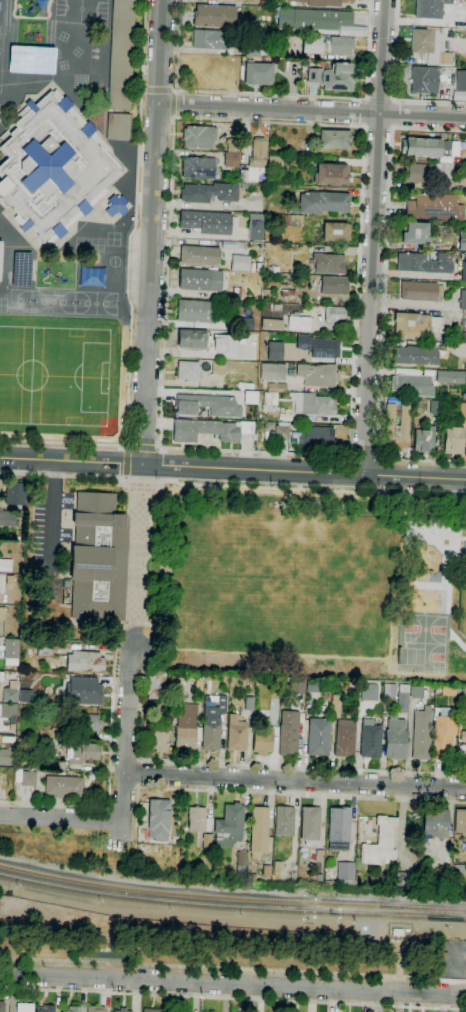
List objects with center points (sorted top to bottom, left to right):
building: (267, 2)
building: (321, 2)
building: (40, 3)
building: (430, 9)
park: (80, 11)
building: (214, 16)
building: (313, 19)
building: (465, 19)
building: (259, 20)
building: (210, 39)
road: (176, 45)
building: (327, 45)
building: (280, 46)
building: (430, 46)
building: (252, 49)
building: (121, 54)
building: (30, 60)
building: (258, 73)
building: (333, 77)
building: (424, 80)
building: (461, 81)
road: (394, 85)
road: (145, 90)
road: (159, 90)
road: (159, 90)
road: (172, 90)
road: (174, 92)
building: (465, 96)
road: (319, 97)
road: (173, 104)
road: (173, 105)
road: (312, 109)
road: (364, 113)
road: (396, 114)
road: (156, 115)
road: (173, 117)
building: (117, 126)
road: (377, 133)
building: (198, 137)
building: (334, 140)
building: (231, 145)
building: (421, 147)
building: (231, 160)
building: (254, 162)
building: (275, 164)
building: (53, 168)
building: (198, 168)
building: (443, 170)
building: (417, 173)
building: (332, 174)
road: (169, 187)
building: (208, 193)
building: (320, 203)
building: (116, 206)
building: (434, 207)
building: (293, 220)
building: (206, 222)
road: (135, 223)
building: (255, 230)
road: (153, 232)
building: (335, 232)
building: (416, 234)
road: (373, 237)
building: (462, 243)
building: (233, 245)
building: (0, 254)
building: (199, 256)
building: (240, 263)
building: (424, 263)
building: (328, 264)
building: (200, 280)
building: (333, 285)
building: (465, 286)
building: (420, 291)
building: (266, 293)
building: (287, 294)
park: (18, 299)
building: (463, 300)
park: (52, 301)
road: (384, 301)
park: (95, 303)
building: (194, 311)
building: (335, 315)
building: (299, 323)
building: (244, 324)
building: (271, 324)
building: (417, 325)
building: (463, 337)
building: (208, 342)
building: (319, 346)
building: (273, 350)
building: (415, 356)
building: (218, 368)
building: (188, 371)
building: (272, 371)
park: (54, 374)
building: (317, 375)
building: (449, 377)
building: (412, 385)
road: (352, 387)
building: (276, 388)
building: (269, 402)
building: (313, 404)
building: (206, 405)
building: (269, 425)
building: (396, 429)
building: (209, 430)
building: (281, 433)
building: (316, 437)
building: (423, 440)
building: (453, 441)
road: (62, 445)
road: (127, 448)
road: (142, 448)
road: (125, 449)
road: (157, 449)
road: (363, 453)
road: (124, 463)
road: (233, 468)
road: (348, 474)
road: (381, 476)
road: (123, 478)
road: (232, 486)
building: (14, 494)
road: (53, 511)
building: (7, 519)
building: (464, 550)
road: (137, 554)
building: (98, 559)
building: (5, 566)
park: (307, 585)
building: (2, 613)
park: (424, 630)
building: (10, 649)
building: (45, 650)
park: (411, 656)
park: (434, 657)
building: (85, 662)
building: (198, 683)
building: (155, 684)
building: (314, 686)
building: (296, 687)
building: (85, 691)
building: (367, 691)
building: (416, 693)
building: (10, 696)
building: (402, 698)
building: (249, 703)
building: (221, 705)
building: (335, 706)
building: (9, 712)
building: (171, 718)
building: (82, 722)
building: (187, 728)
road: (126, 732)
building: (53, 733)
building: (236, 733)
building: (288, 733)
building: (421, 734)
building: (210, 736)
building: (443, 736)
building: (318, 737)
building: (158, 738)
building: (263, 738)
building: (344, 738)
building: (370, 739)
building: (395, 739)
building: (82, 753)
building: (5, 757)
building: (461, 761)
road: (221, 764)
road: (110, 765)
building: (50, 766)
road: (139, 773)
building: (27, 778)
road: (294, 781)
building: (64, 787)
road: (269, 792)
road: (60, 818)
building: (158, 818)
building: (198, 820)
building: (284, 821)
building: (460, 821)
building: (435, 824)
building: (229, 825)
building: (310, 825)
building: (338, 828)
building: (259, 832)
building: (380, 842)
building: (207, 843)
building: (241, 858)
building: (317, 863)
building: (277, 865)
building: (266, 871)
building: (358, 871)
building: (458, 871)
building: (343, 875)
building: (252, 877)
building: (402, 878)
railway: (231, 897)
railway: (173, 902)
railway: (407, 913)
railway: (407, 917)
building: (396, 932)
park: (200, 943)
road: (233, 969)
road: (233, 984)
road: (233, 997)
building: (2, 1006)
building: (24, 1008)
building: (46, 1009)
building: (71, 1009)
building: (95, 1009)
building: (121, 1010)
building: (152, 1010)

